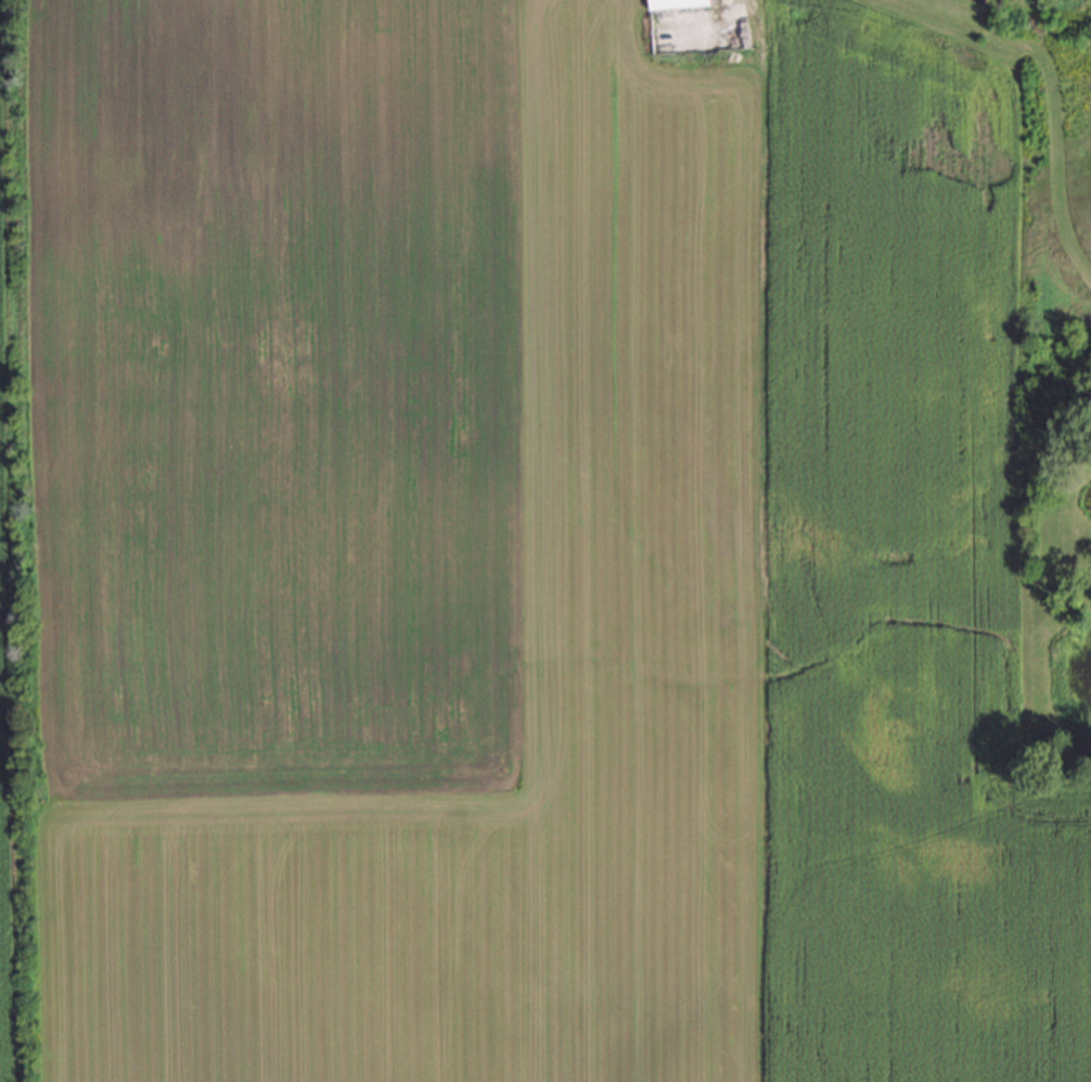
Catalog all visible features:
building: (679, 4)

